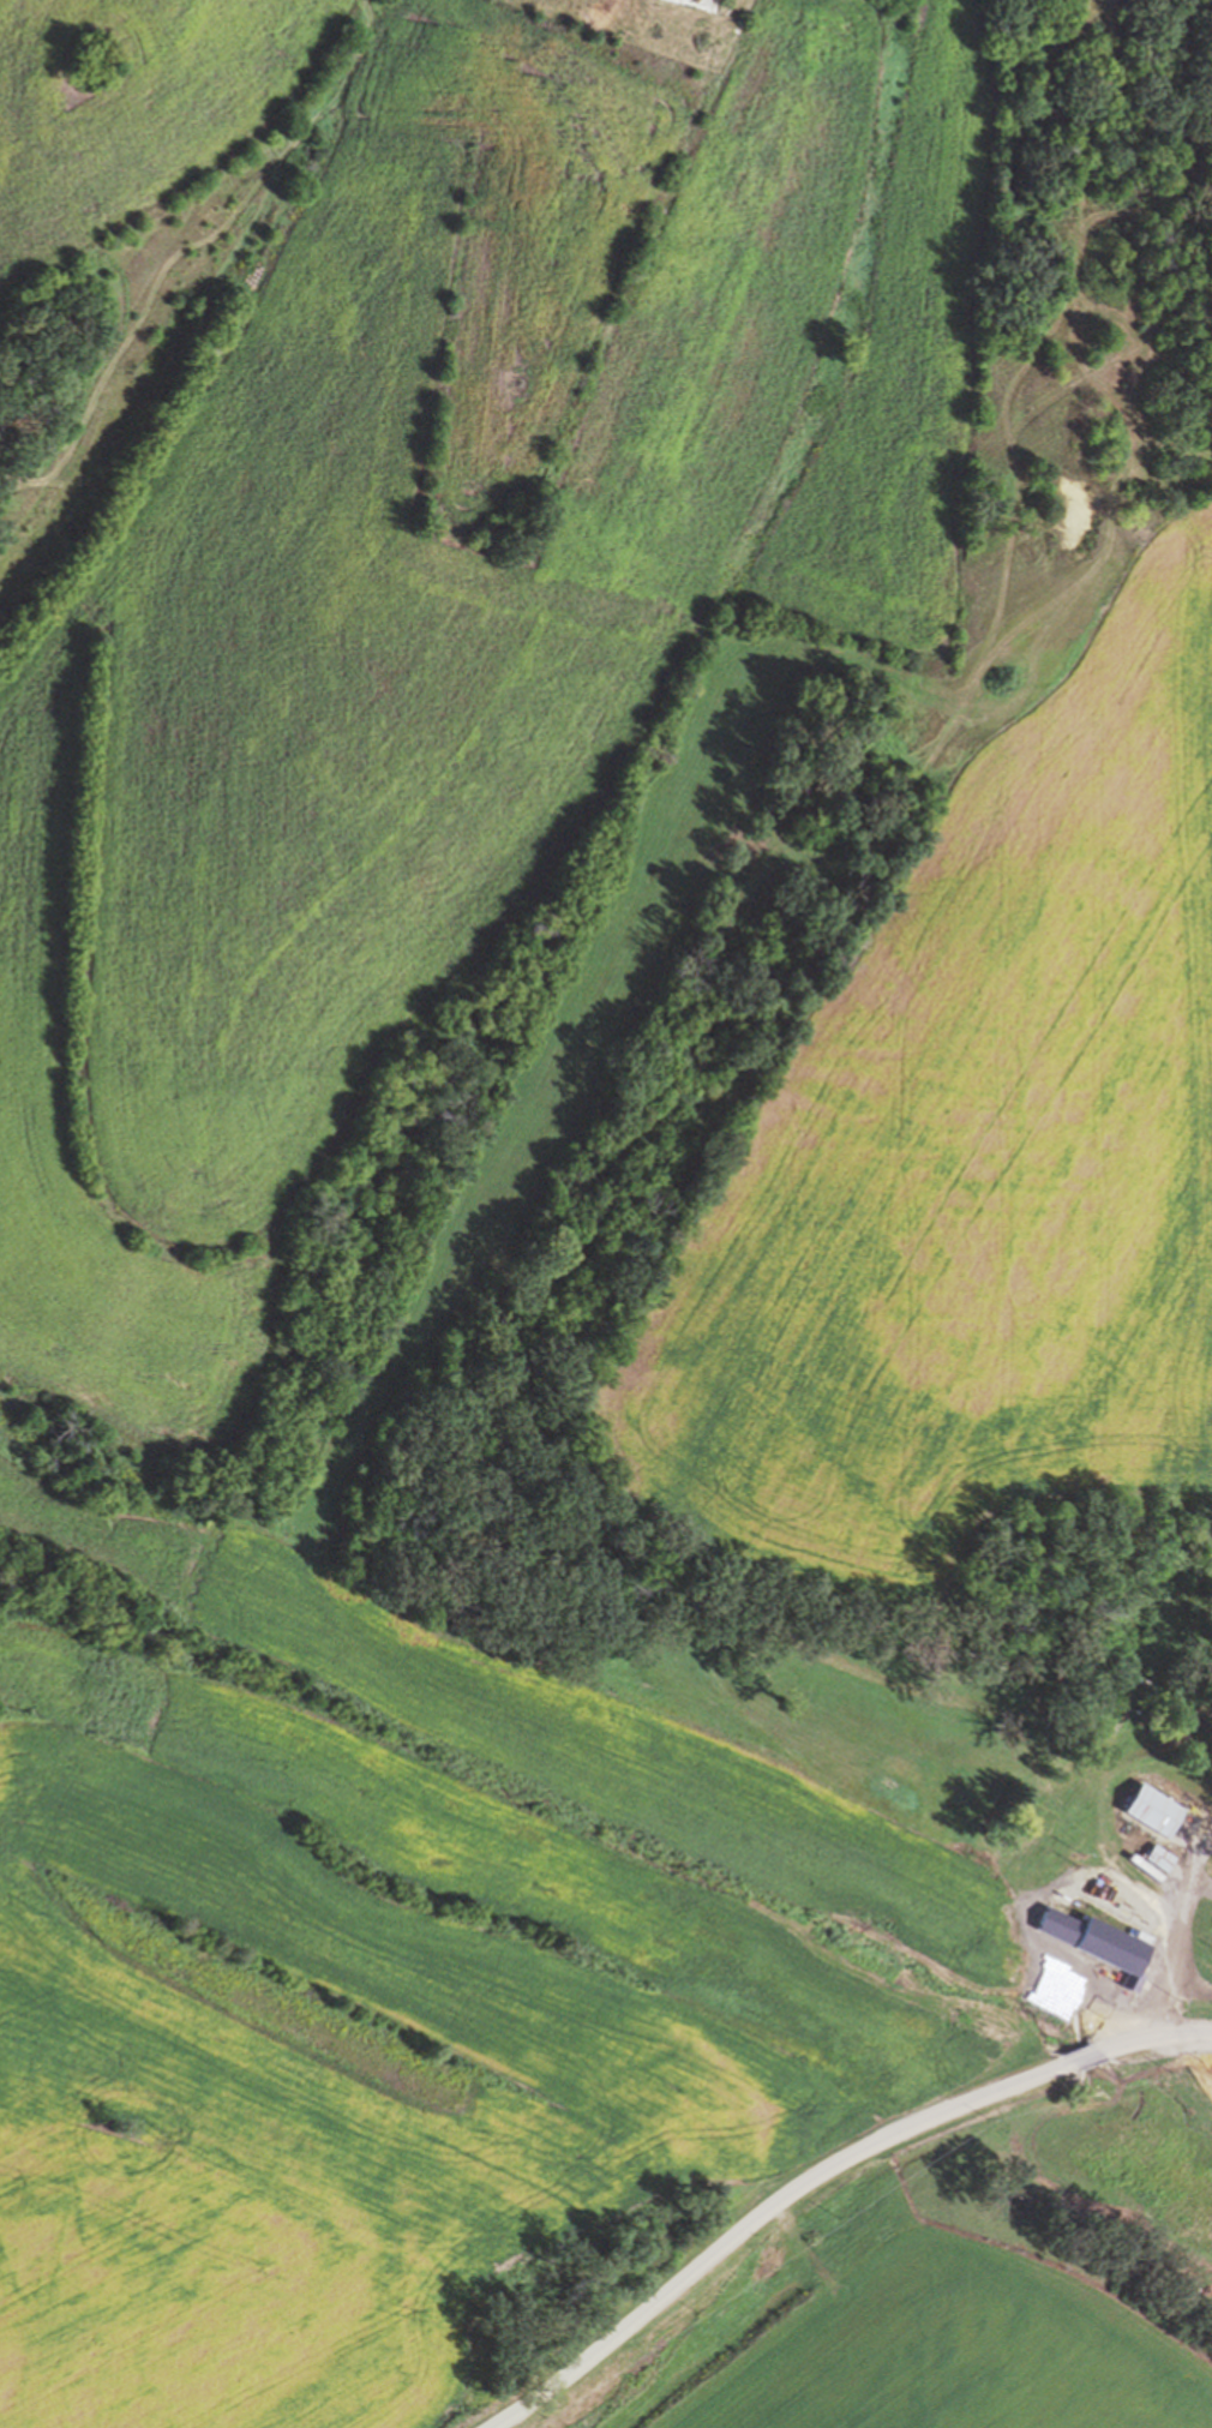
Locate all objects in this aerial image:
building: (1153, 1810)
building: (1160, 1858)
building: (1106, 1937)
road: (1180, 1940)
road: (1154, 2036)
road: (1082, 2057)
road: (760, 2213)

